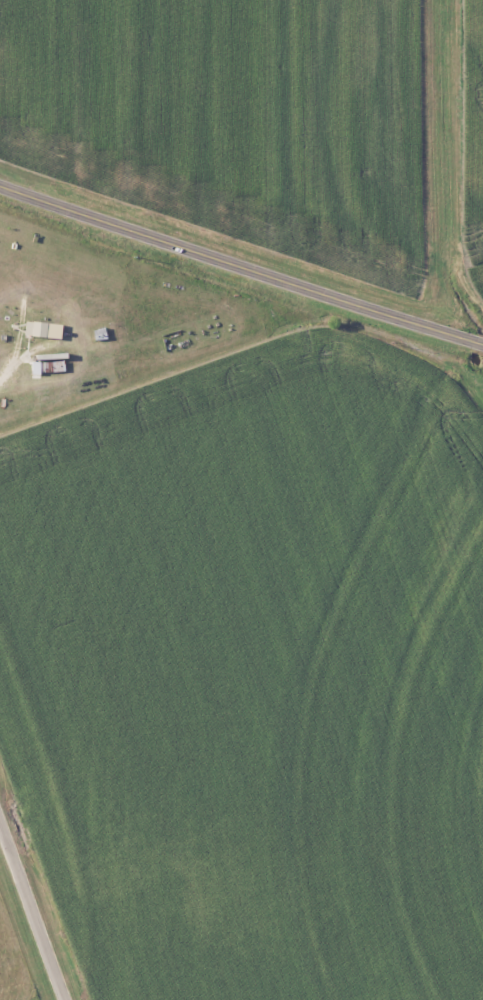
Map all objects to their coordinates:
road: (240, 267)
building: (42, 329)
road: (7, 369)
road: (32, 911)

